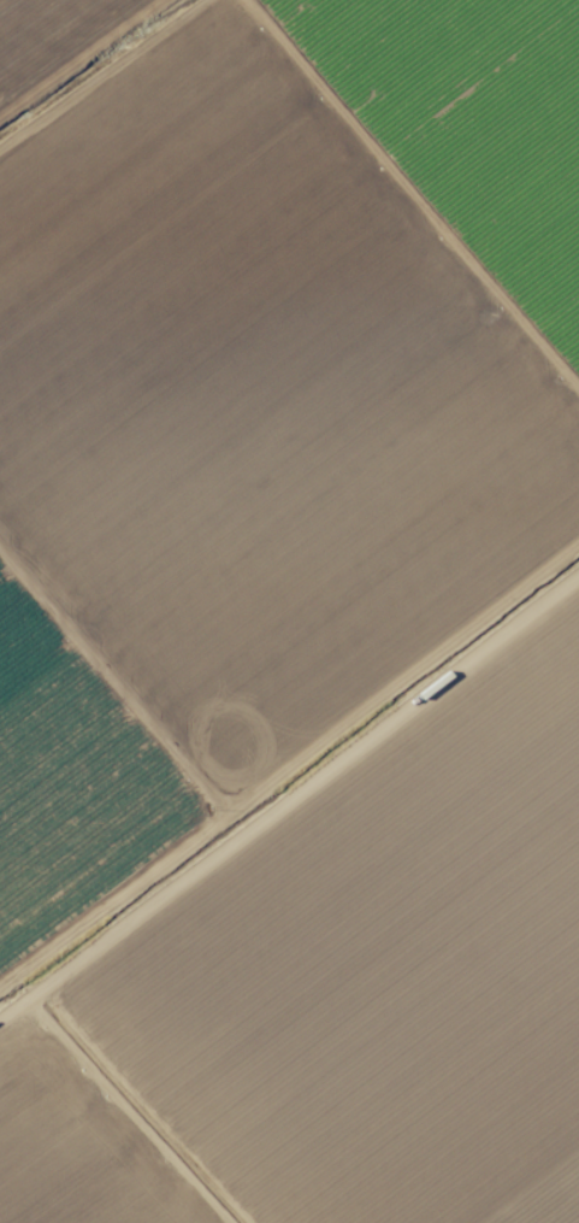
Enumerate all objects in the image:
crop: (289, 611)
road: (289, 766)

